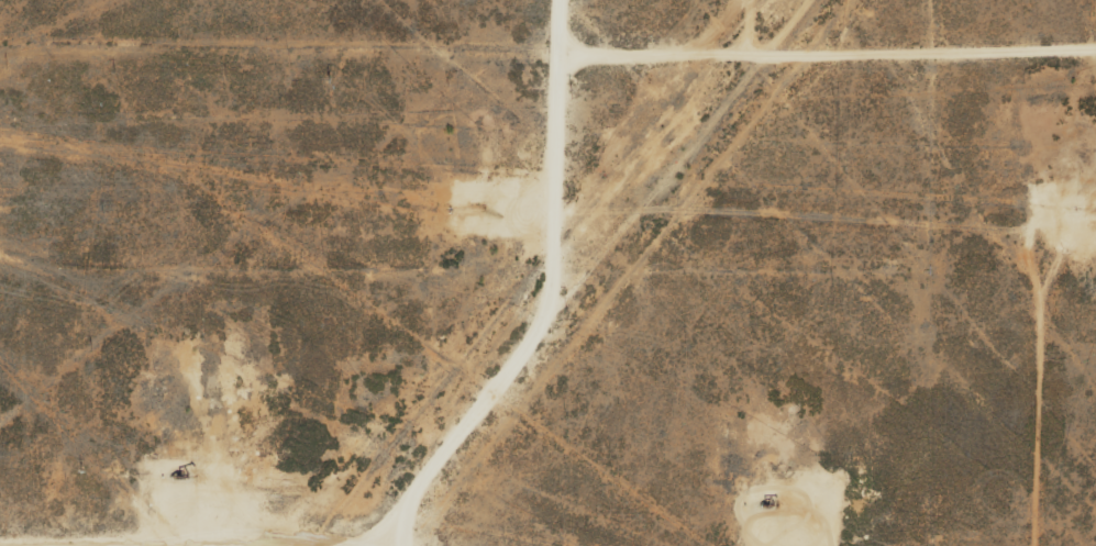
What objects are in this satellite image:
road: (547, 57)
road: (946, 216)
road: (442, 450)
road: (387, 531)

